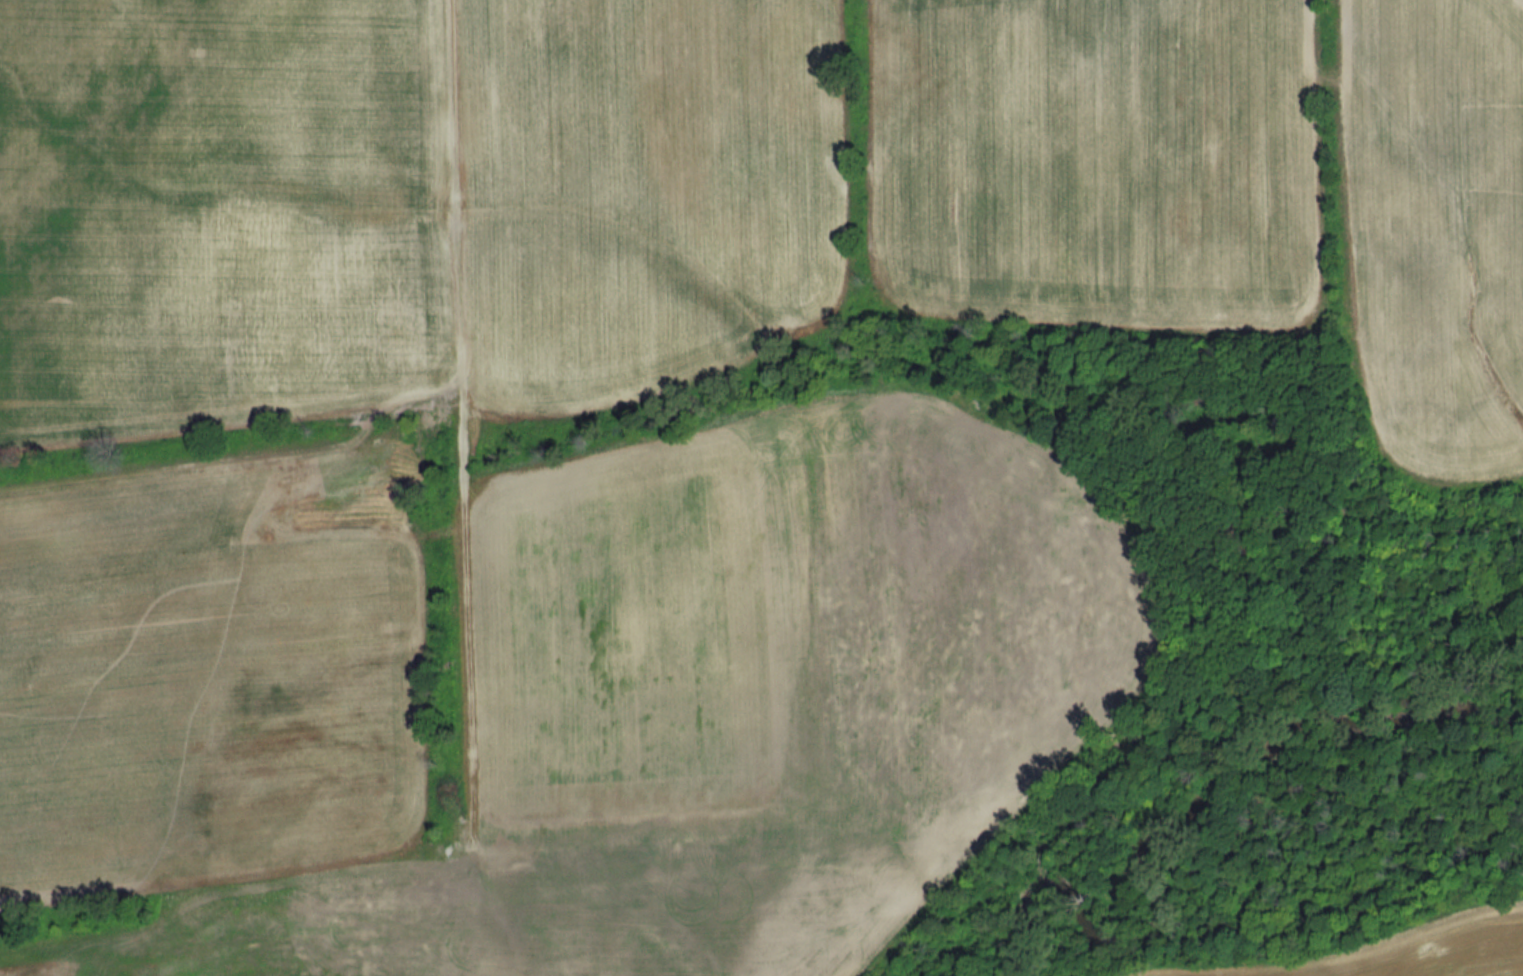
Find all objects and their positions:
crop: (1097, 162)
crop: (641, 194)
crop: (217, 212)
crop: (1436, 230)
crop: (562, 698)
crop: (1405, 953)

